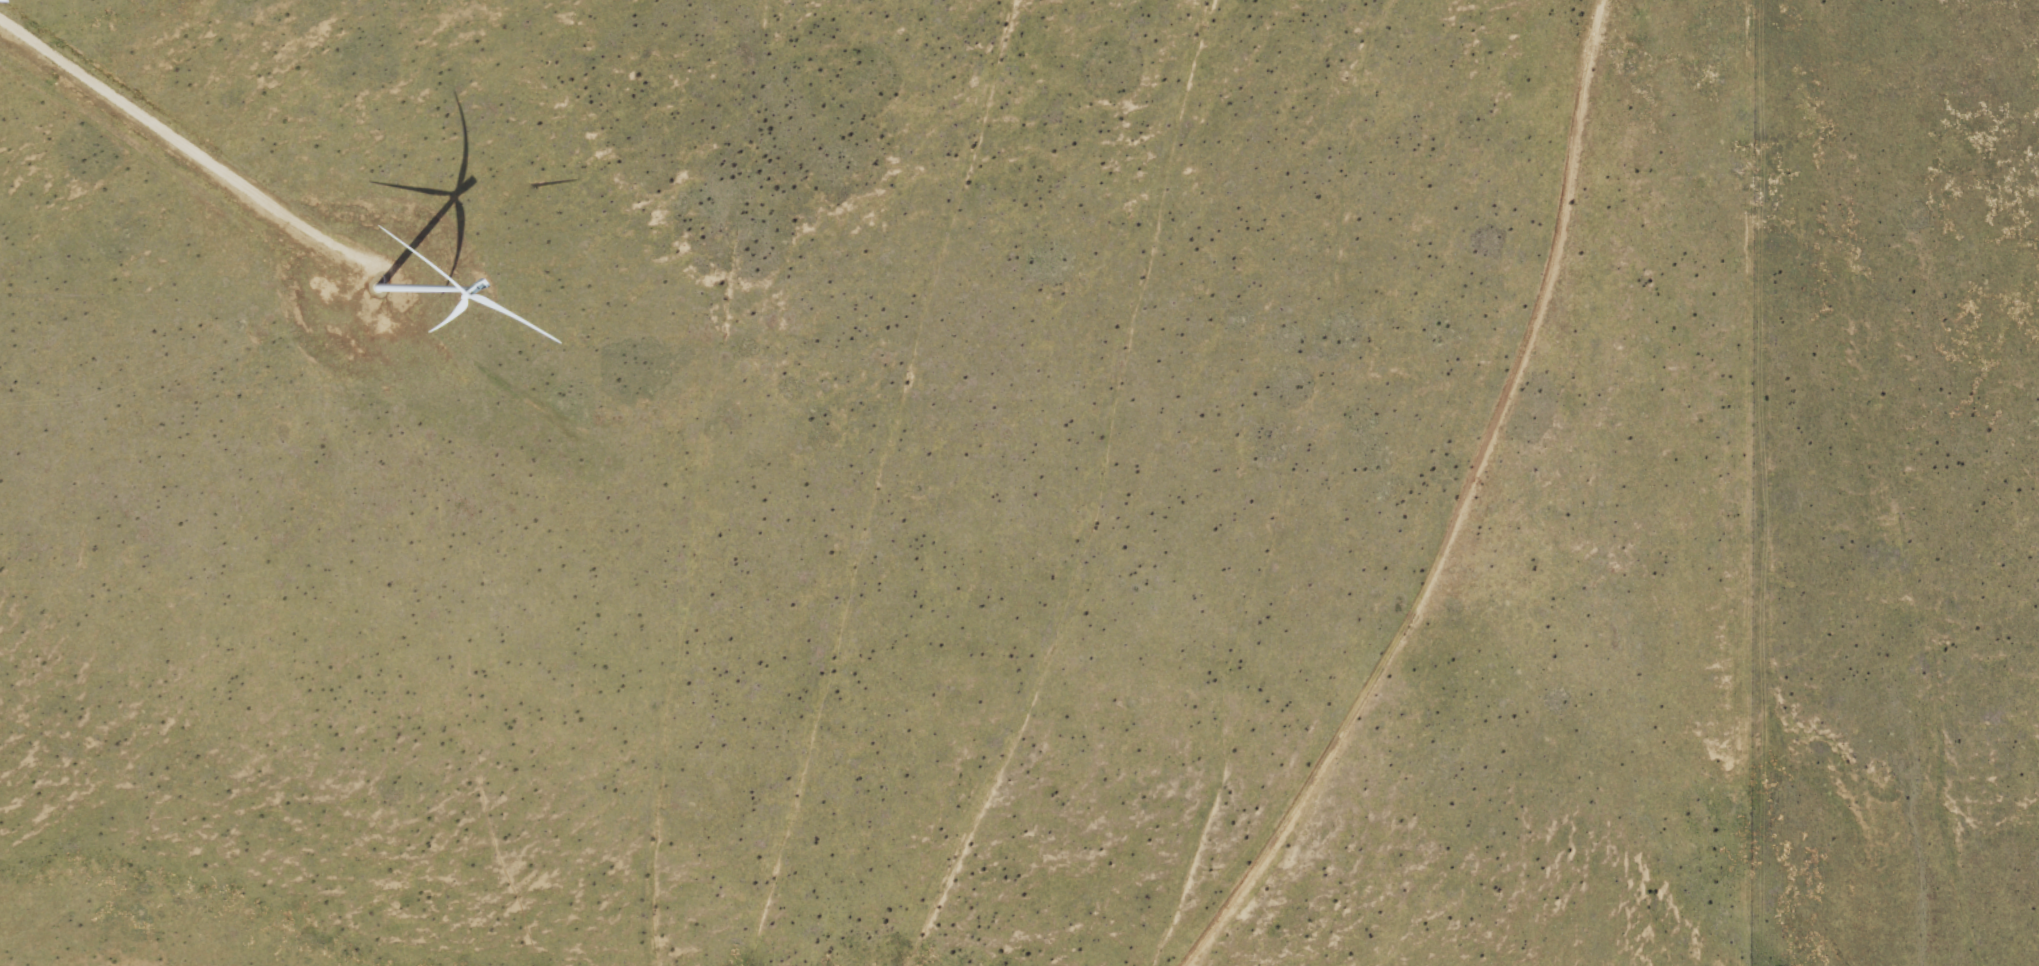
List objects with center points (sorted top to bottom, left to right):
road: (5, 1)
road: (173, 139)
wind turbine: (383, 282)

